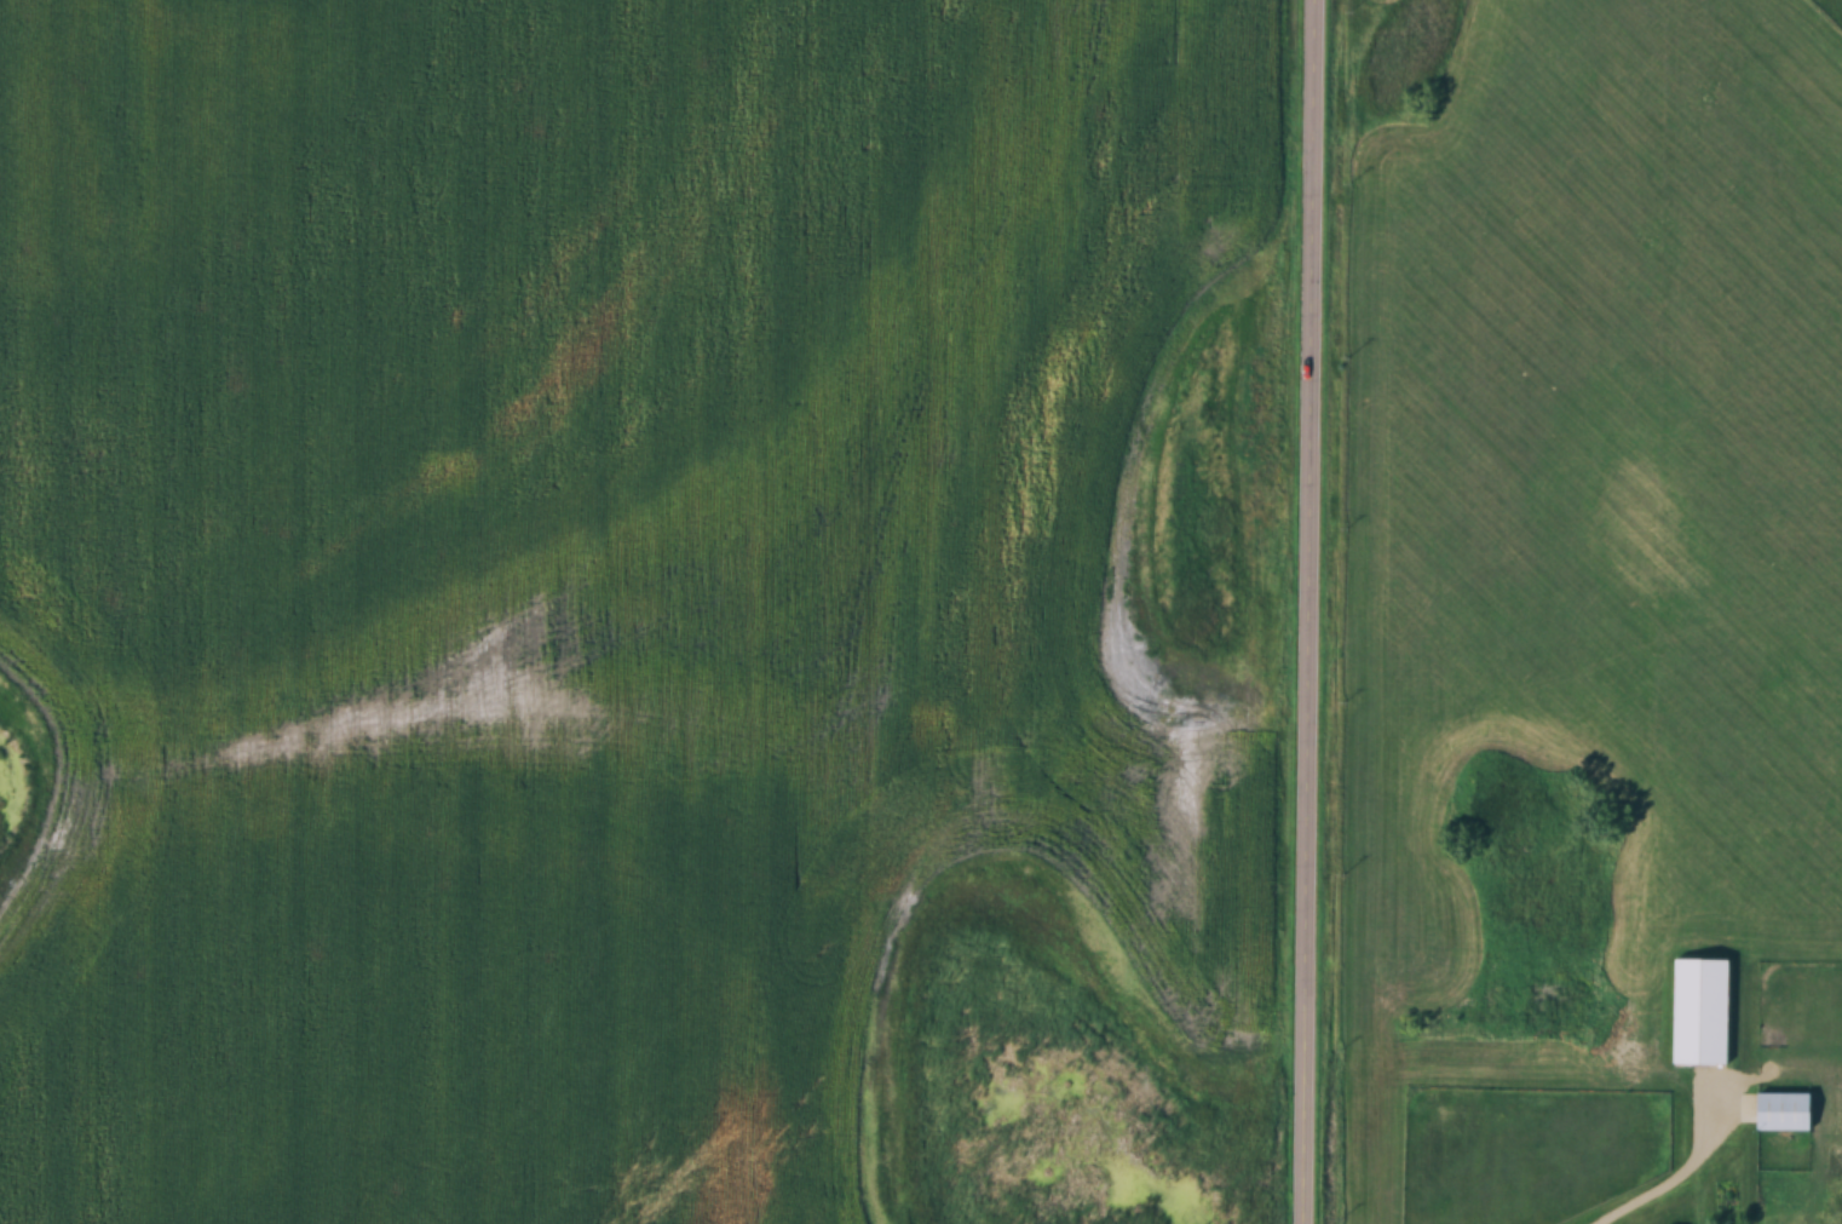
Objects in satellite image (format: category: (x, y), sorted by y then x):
airport: (1840, 1)
road: (1314, 611)
building: (1703, 1011)
building: (1786, 1111)
road: (1673, 1180)

